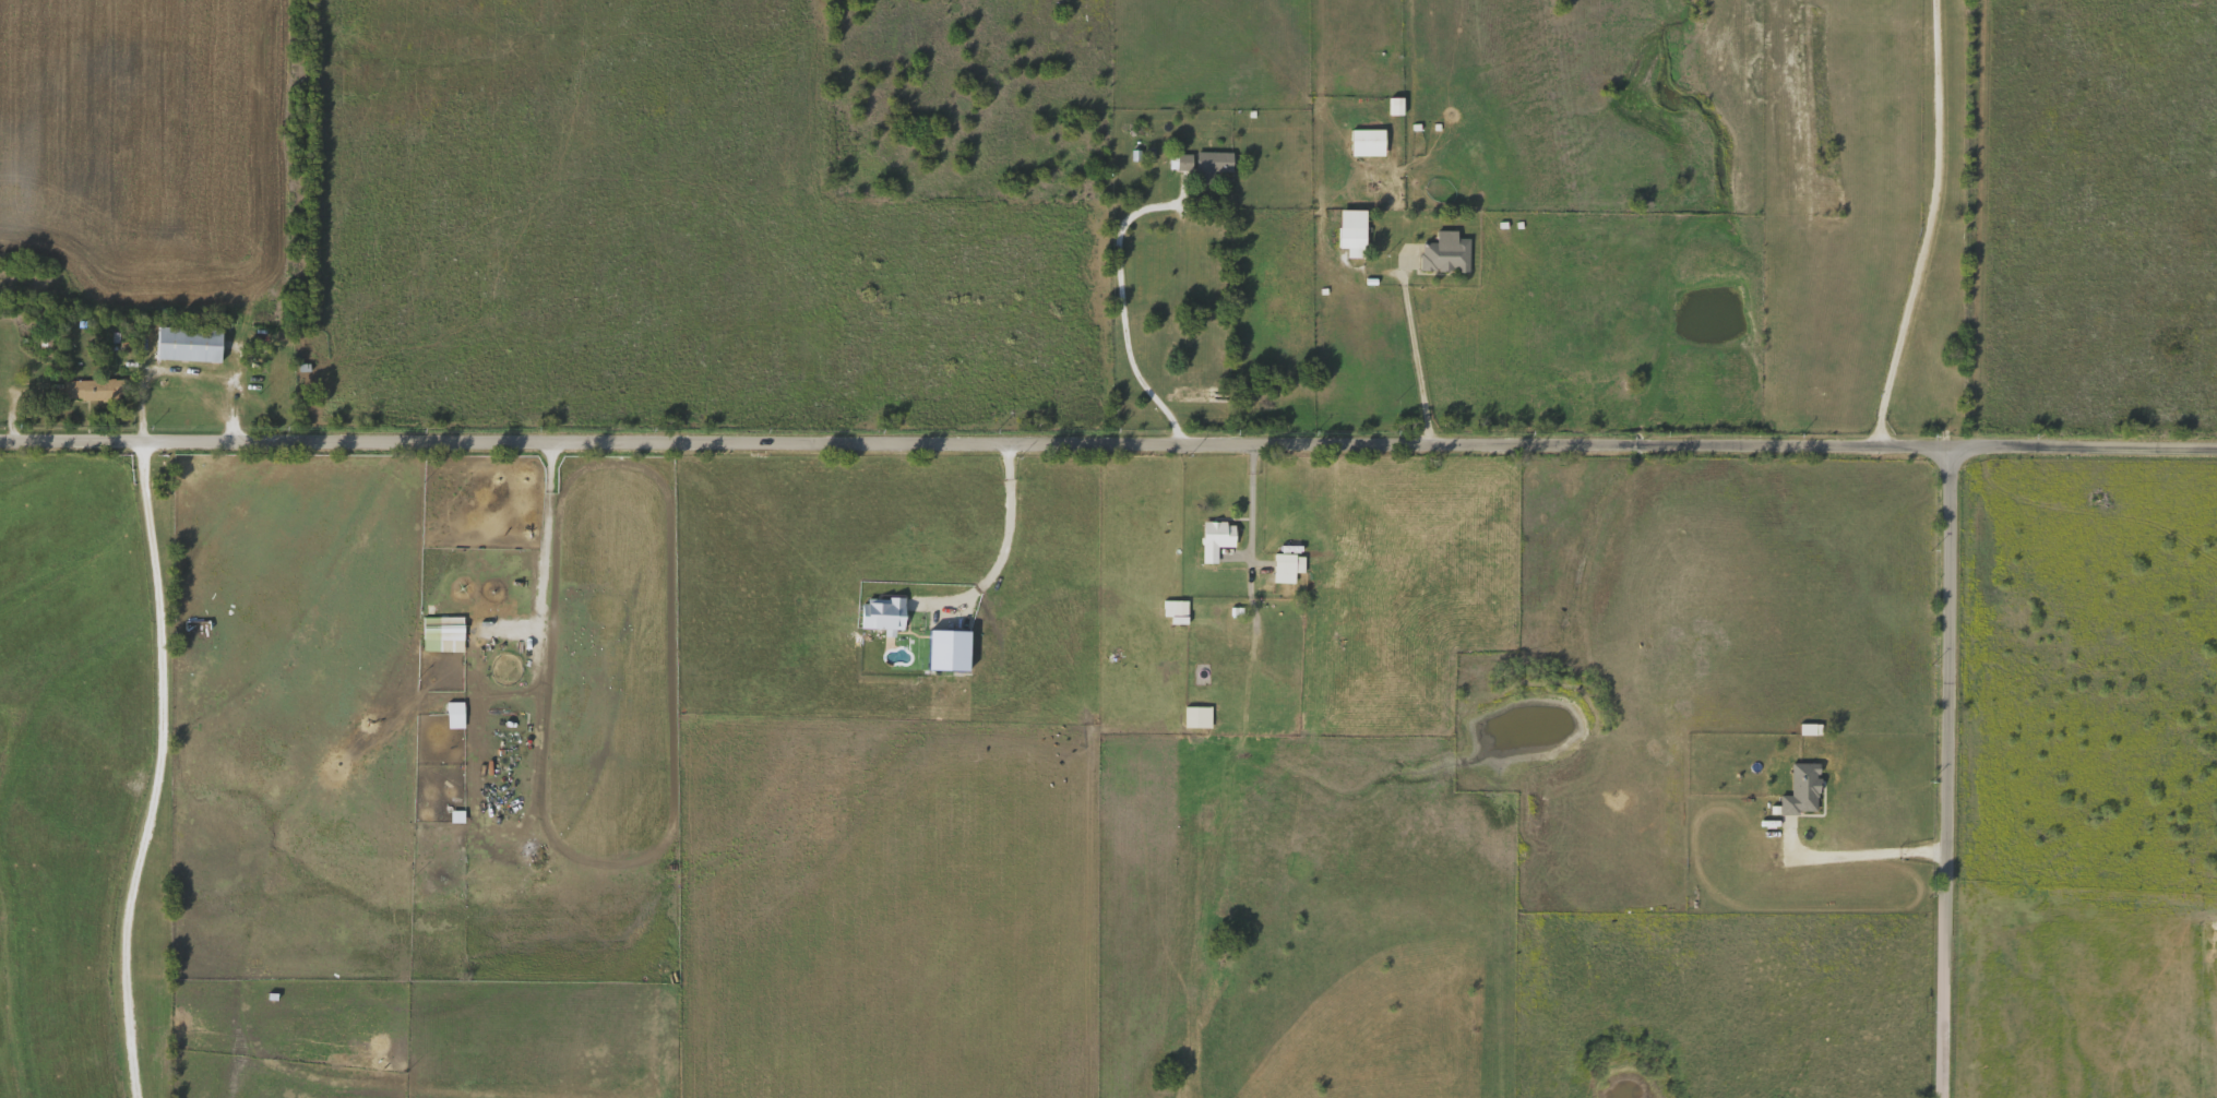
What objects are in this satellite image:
building: (1368, 141)
building: (1182, 160)
building: (1214, 165)
road: (1932, 225)
building: (1354, 231)
building: (1446, 252)
road: (1127, 311)
building: (190, 343)
road: (1417, 362)
building: (93, 387)
road: (976, 442)
road: (2084, 445)
road: (1251, 500)
road: (550, 530)
road: (1009, 530)
building: (1217, 537)
building: (1287, 564)
building: (1173, 607)
building: (198, 623)
building: (444, 632)
building: (455, 714)
building: (1197, 715)
road: (157, 771)
road: (1947, 772)
road: (1874, 849)

